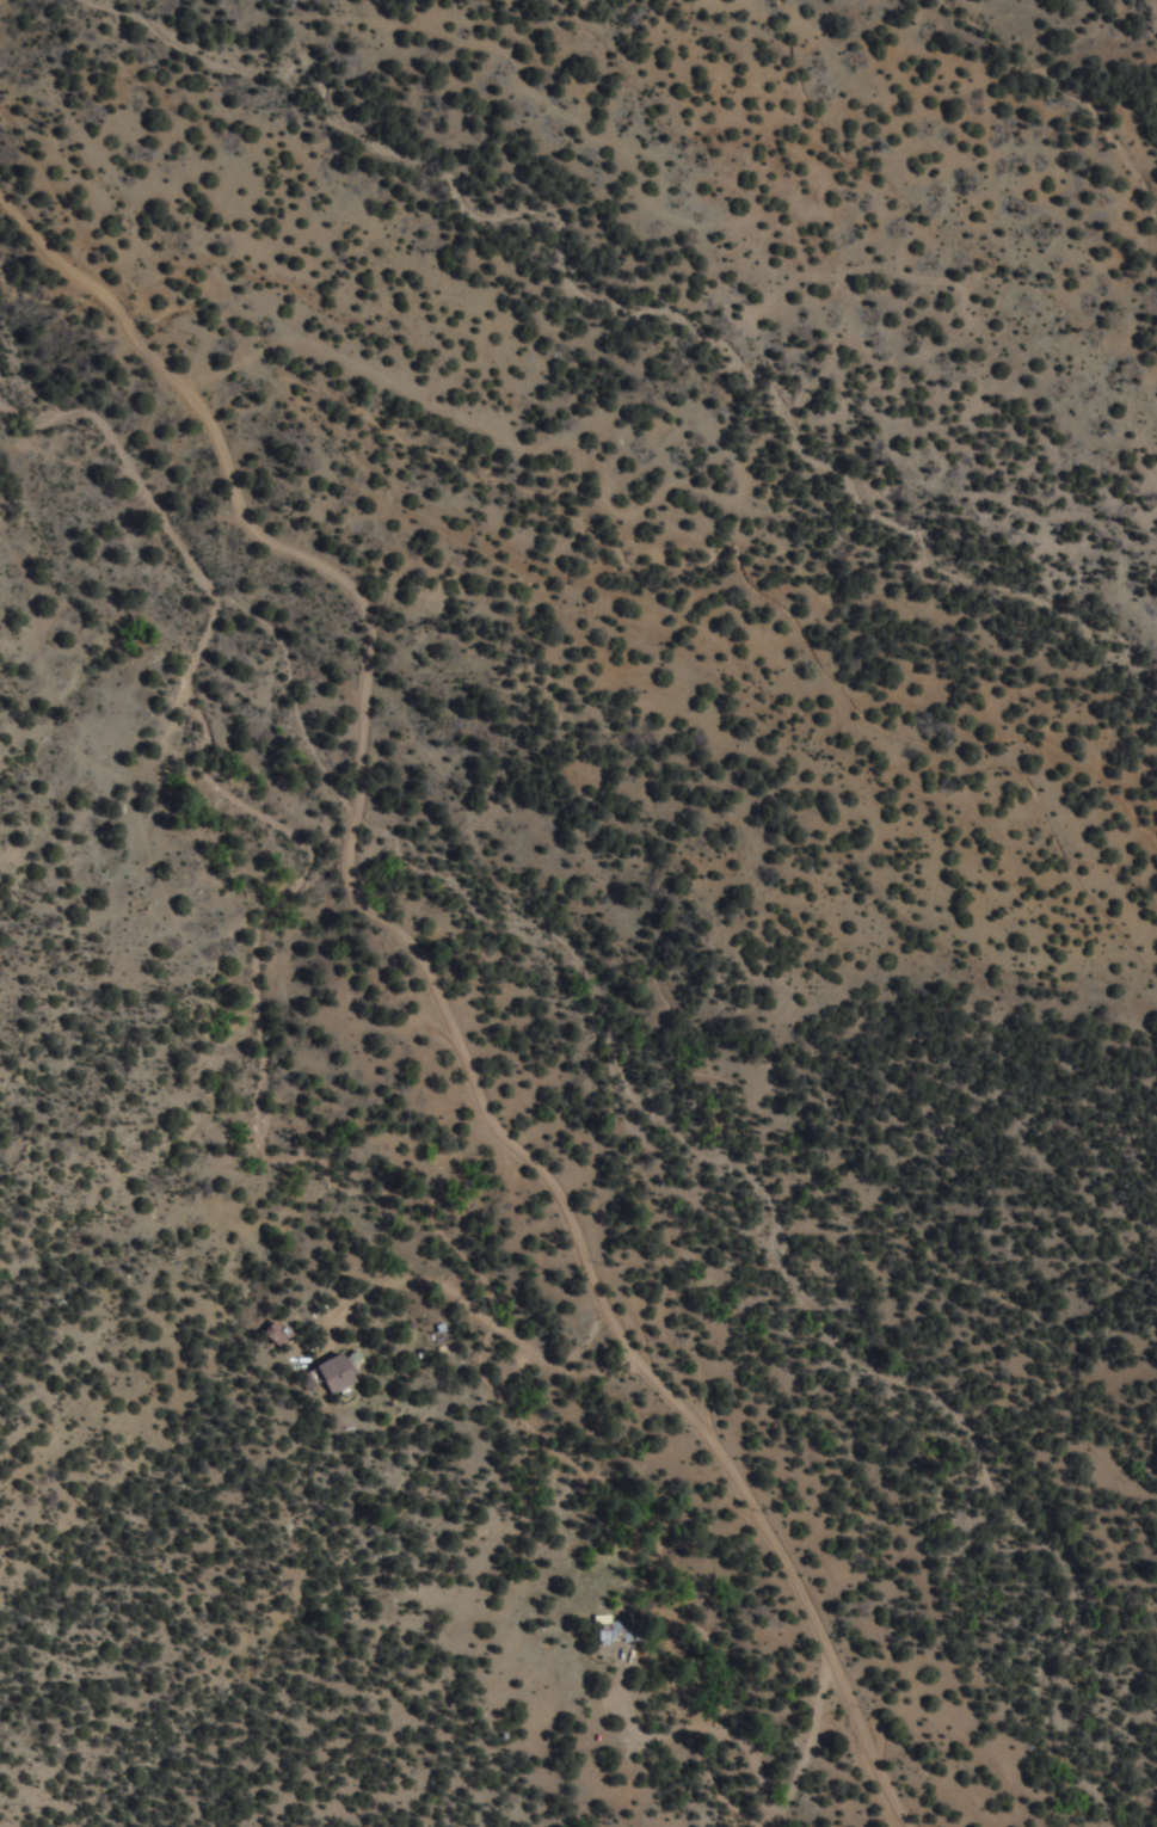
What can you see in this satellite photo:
road: (436, 997)
building: (282, 1333)
building: (347, 1371)
building: (622, 1630)

